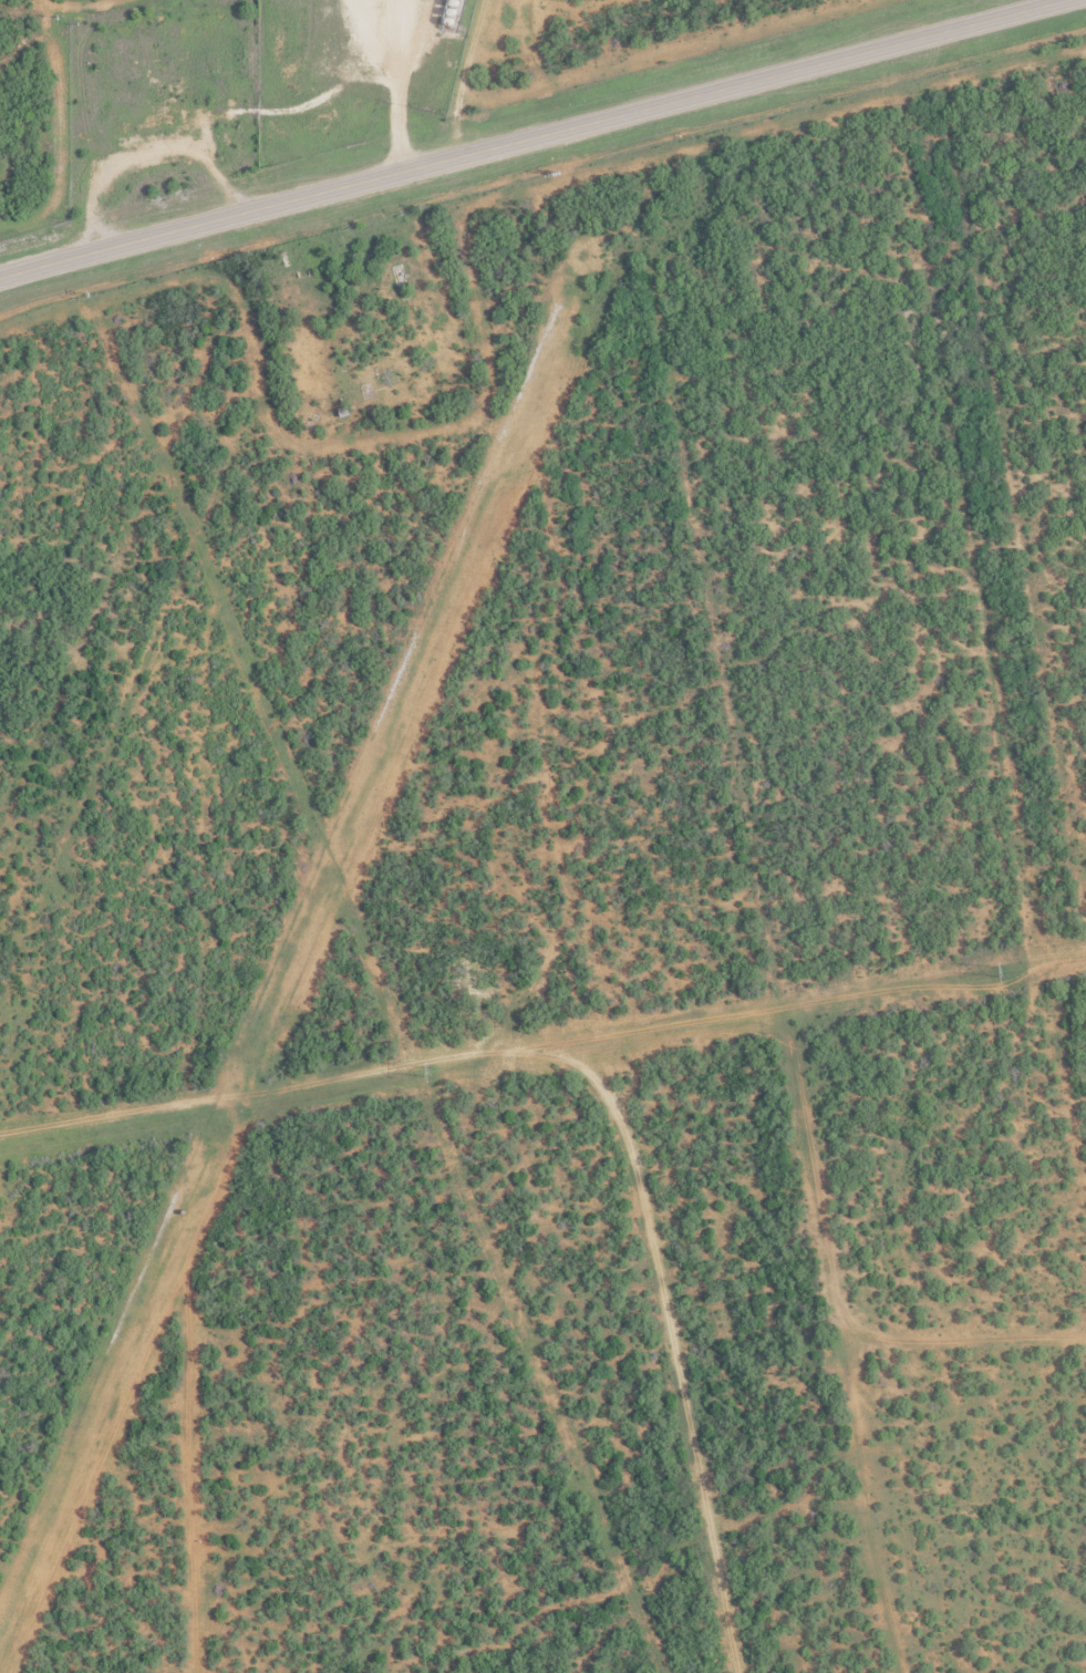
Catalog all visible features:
road: (530, 137)
power tower: (1003, 972)
power tower: (432, 1072)
road: (593, 1081)

